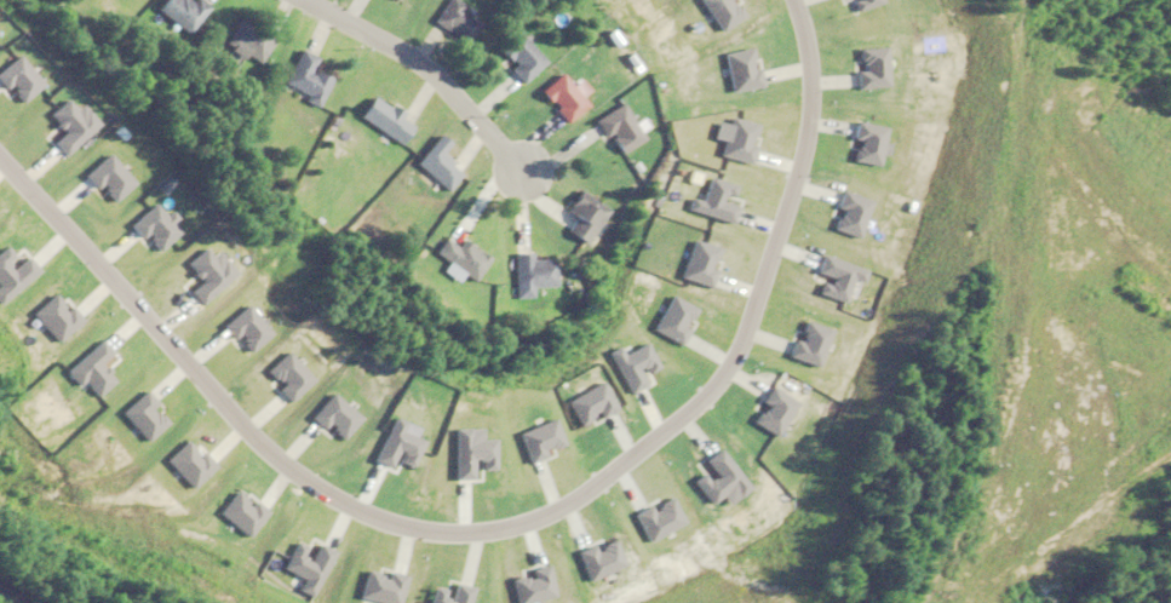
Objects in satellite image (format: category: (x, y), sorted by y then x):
building: (179, 11)
building: (454, 21)
building: (243, 39)
building: (516, 54)
road: (429, 71)
building: (299, 76)
building: (559, 97)
building: (378, 117)
building: (614, 127)
building: (432, 162)
road: (786, 200)
building: (582, 214)
building: (454, 255)
building: (532, 272)
road: (311, 481)
road: (0, 602)

